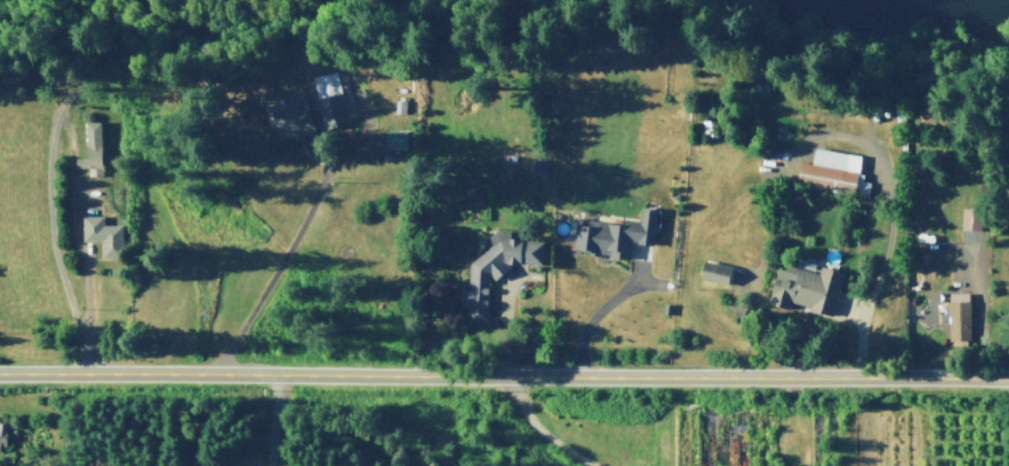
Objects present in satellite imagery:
building: (332, 98)
building: (295, 117)
building: (397, 137)
building: (94, 145)
building: (539, 165)
building: (835, 171)
building: (513, 172)
road: (48, 205)
building: (973, 217)
building: (104, 233)
building: (616, 233)
building: (925, 258)
building: (496, 267)
building: (718, 270)
building: (807, 287)
building: (959, 314)
road: (504, 374)
road: (538, 429)
building: (3, 436)

